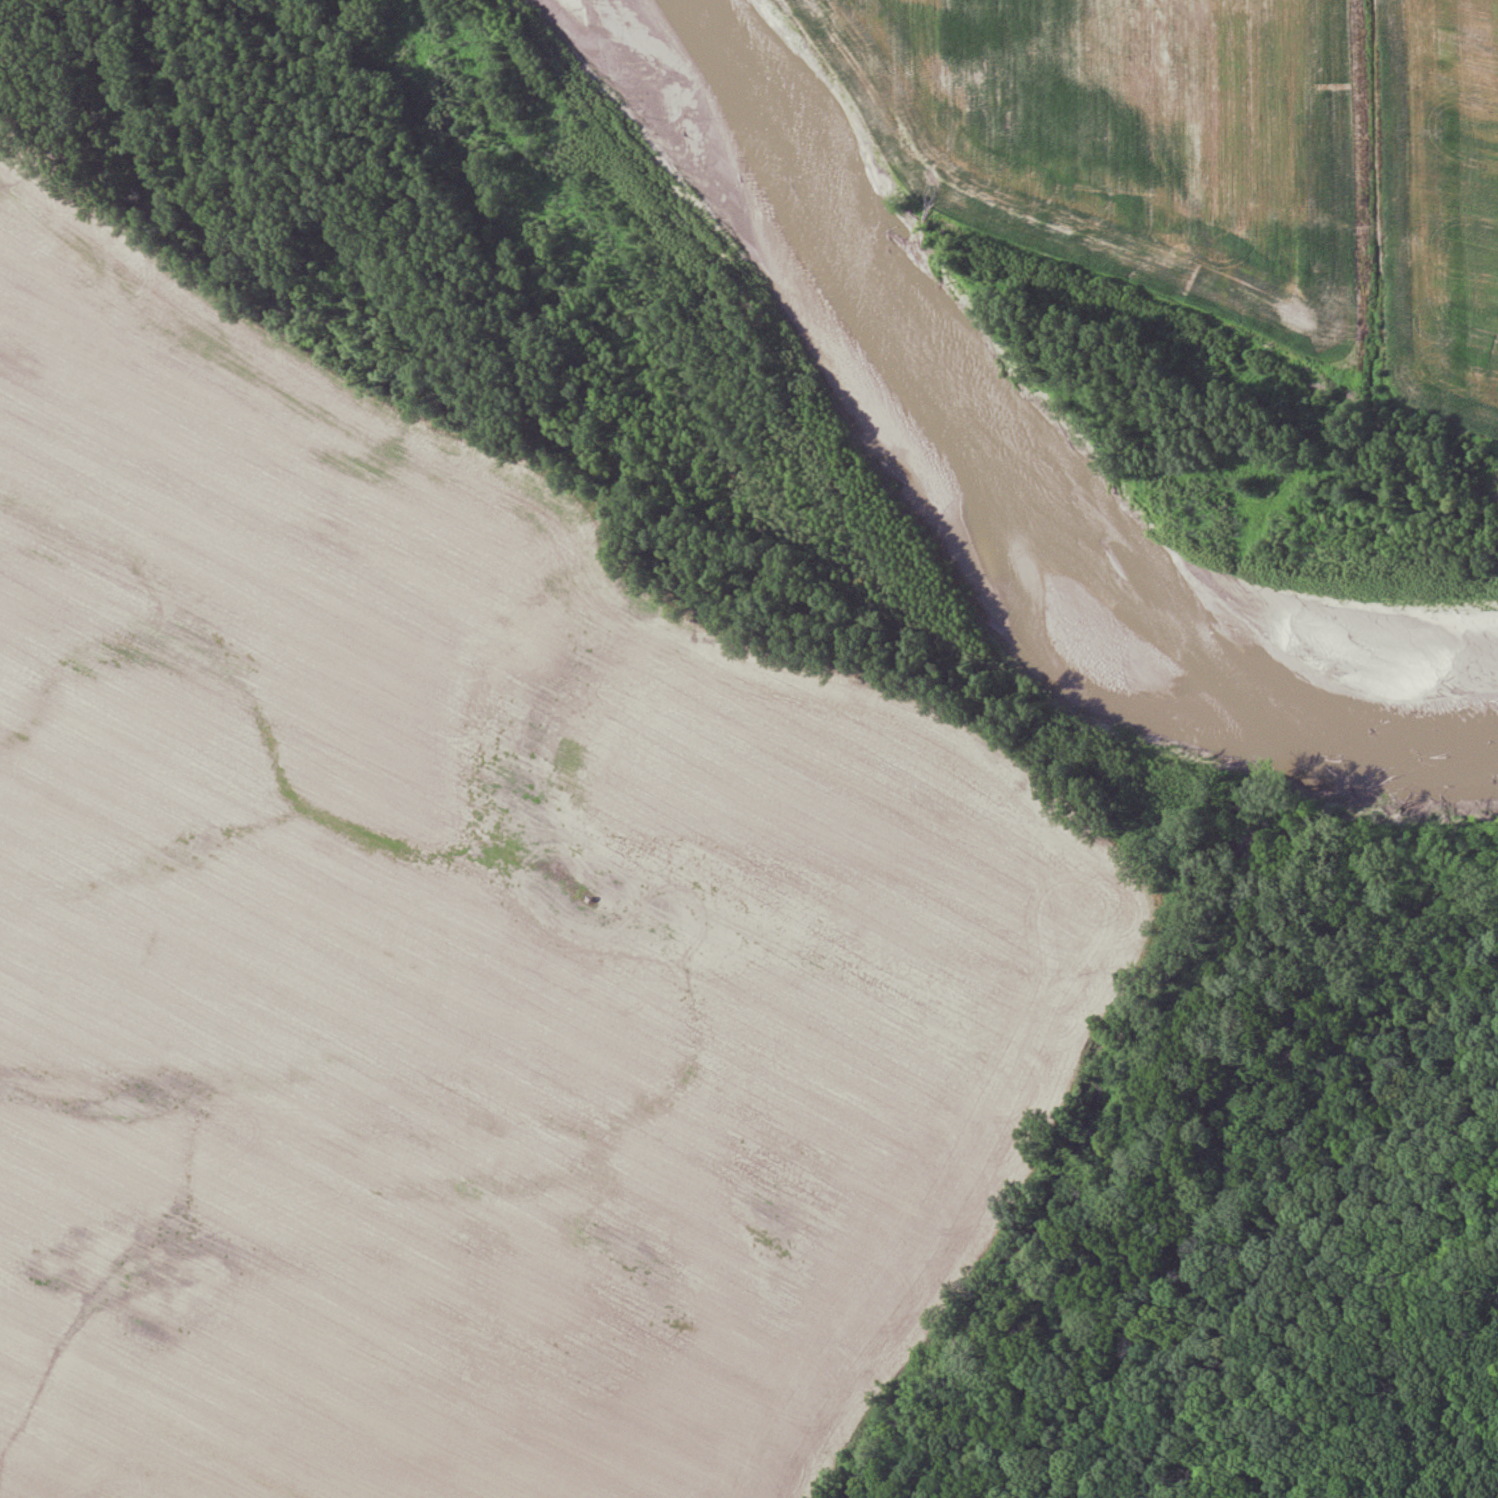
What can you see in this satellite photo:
river: (976, 520)
park: (633, 880)
crop: (453, 952)
road: (1255, 1291)
road: (1402, 1389)

